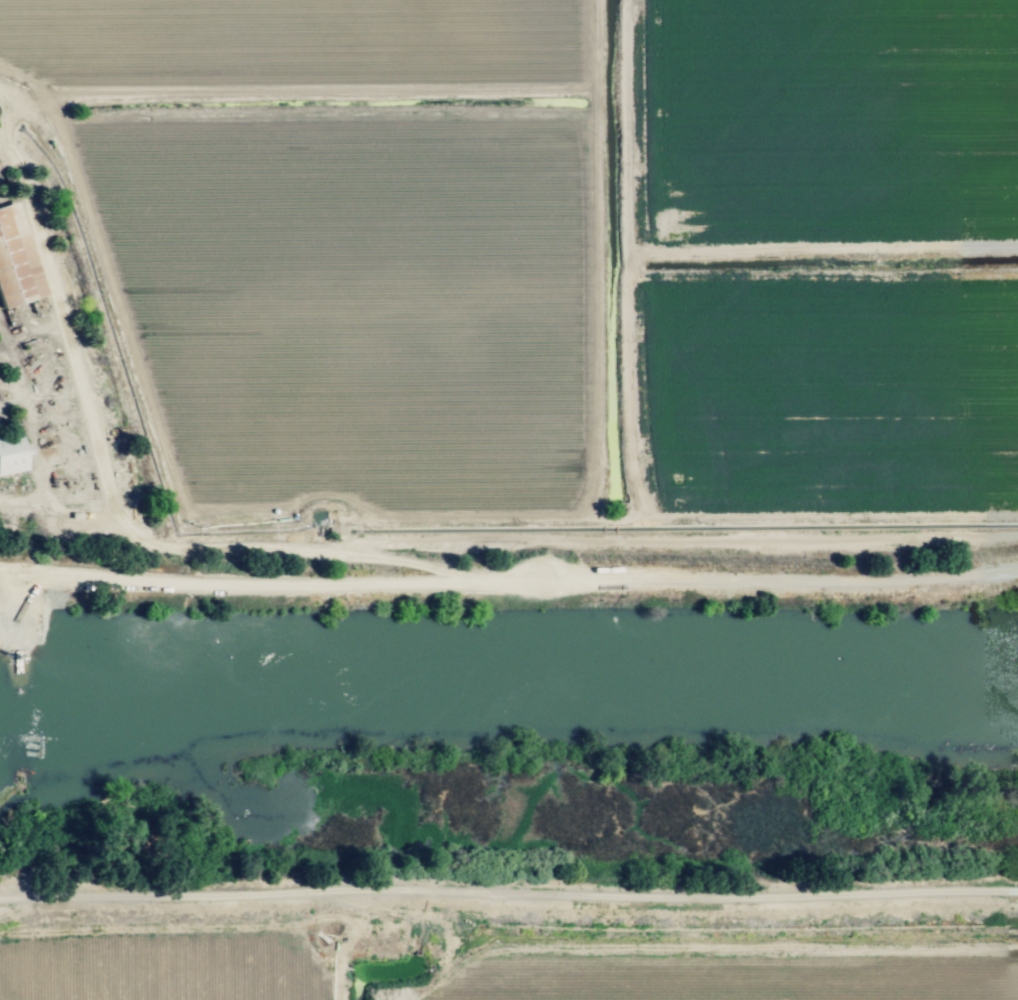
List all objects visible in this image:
road: (3, 115)
road: (1, 149)
building: (16, 261)
building: (11, 454)
road: (119, 513)
road: (657, 540)
road: (509, 589)
river: (508, 684)
road: (508, 893)
road: (357, 909)
road: (199, 927)
crop: (537, 965)

